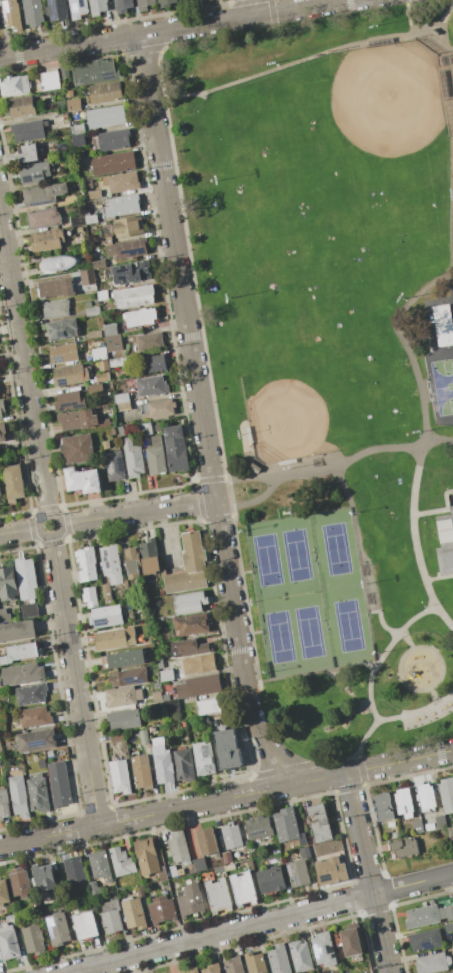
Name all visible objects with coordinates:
building: (165, 3)
building: (144, 4)
building: (123, 6)
building: (98, 7)
road: (251, 7)
building: (78, 8)
building: (57, 10)
building: (33, 12)
building: (11, 14)
road: (243, 16)
road: (443, 37)
road: (430, 39)
road: (69, 45)
road: (450, 48)
road: (239, 49)
road: (306, 58)
road: (451, 66)
building: (94, 72)
building: (64, 73)
building: (49, 81)
building: (14, 85)
building: (105, 93)
building: (69, 94)
building: (73, 105)
building: (21, 106)
building: (105, 116)
building: (77, 128)
building: (28, 130)
building: (78, 140)
building: (113, 140)
building: (28, 154)
building: (113, 163)
building: (35, 172)
park: (334, 173)
building: (123, 182)
building: (94, 194)
building: (43, 195)
building: (122, 206)
building: (43, 218)
building: (77, 219)
building: (90, 219)
building: (121, 226)
building: (78, 228)
building: (47, 240)
building: (105, 240)
building: (125, 248)
building: (59, 264)
building: (98, 264)
road: (452, 270)
building: (129, 271)
building: (87, 277)
road: (450, 282)
building: (55, 288)
building: (102, 296)
building: (133, 297)
building: (55, 308)
building: (92, 311)
building: (140, 317)
road: (429, 317)
building: (443, 324)
building: (62, 330)
building: (110, 330)
building: (93, 334)
building: (149, 342)
building: (113, 343)
building: (63, 353)
building: (99, 353)
road: (405, 355)
park: (330, 356)
road: (440, 356)
road: (192, 357)
road: (24, 362)
building: (117, 362)
building: (149, 364)
building: (102, 365)
park: (323, 370)
building: (70, 375)
building: (101, 376)
park: (443, 385)
building: (151, 386)
building: (94, 388)
road: (433, 396)
building: (121, 398)
building: (69, 401)
building: (122, 407)
building: (2, 408)
building: (161, 409)
building: (80, 420)
building: (146, 428)
building: (122, 431)
building: (3, 432)
building: (105, 445)
building: (175, 448)
building: (77, 449)
building: (156, 456)
building: (133, 458)
building: (114, 465)
road: (332, 469)
road: (246, 477)
building: (83, 480)
building: (13, 482)
building: (0, 498)
road: (442, 510)
road: (137, 511)
road: (19, 531)
road: (56, 535)
building: (445, 539)
park: (335, 548)
park: (295, 555)
road: (360, 555)
building: (149, 556)
park: (266, 559)
building: (133, 563)
building: (86, 564)
building: (111, 564)
building: (188, 566)
road: (240, 573)
building: (26, 577)
building: (8, 584)
building: (107, 593)
building: (89, 597)
building: (189, 603)
building: (30, 610)
building: (4, 616)
building: (106, 616)
building: (191, 624)
park: (347, 625)
building: (17, 631)
park: (308, 632)
road: (249, 633)
park: (278, 637)
road: (406, 638)
building: (117, 639)
building: (190, 648)
building: (22, 651)
road: (384, 653)
road: (436, 653)
building: (123, 659)
building: (199, 664)
building: (160, 665)
road: (310, 673)
building: (22, 674)
building: (166, 675)
building: (128, 677)
road: (75, 681)
building: (198, 686)
building: (31, 694)
road: (434, 694)
building: (120, 696)
road: (354, 697)
building: (172, 706)
building: (208, 706)
road: (355, 706)
building: (156, 707)
building: (35, 717)
road: (390, 717)
building: (124, 719)
building: (202, 720)
building: (2, 726)
building: (152, 729)
building: (114, 737)
building: (143, 737)
road: (261, 739)
building: (36, 740)
building: (226, 749)
building: (48, 753)
road: (407, 759)
building: (203, 760)
building: (162, 761)
building: (42, 764)
building: (183, 765)
building: (141, 772)
building: (120, 776)
road: (331, 776)
building: (59, 784)
building: (38, 793)
building: (446, 794)
building: (18, 796)
building: (425, 796)
building: (403, 803)
building: (4, 805)
building: (383, 807)
road: (150, 815)
building: (440, 822)
building: (318, 823)
building: (287, 826)
building: (417, 826)
building: (258, 827)
building: (449, 834)
building: (231, 836)
building: (208, 842)
building: (178, 848)
building: (402, 848)
building: (305, 852)
building: (227, 857)
building: (148, 858)
building: (121, 862)
building: (199, 864)
building: (100, 866)
building: (224, 868)
building: (330, 870)
building: (172, 871)
building: (75, 872)
road: (368, 872)
building: (297, 873)
building: (270, 879)
building: (20, 882)
road: (413, 884)
building: (46, 885)
building: (93, 888)
building: (242, 888)
building: (4, 892)
building: (217, 895)
building: (190, 901)
building: (161, 909)
building: (133, 913)
building: (39, 914)
building: (427, 915)
building: (109, 916)
building: (85, 925)
building: (448, 927)
building: (57, 929)
road: (220, 933)
building: (425, 939)
building: (33, 940)
building: (353, 940)
building: (9, 943)
building: (452, 947)
building: (324, 949)
building: (300, 956)
building: (278, 959)
building: (255, 963)
building: (432, 963)
building: (233, 965)
building: (211, 969)
building: (192, 970)

